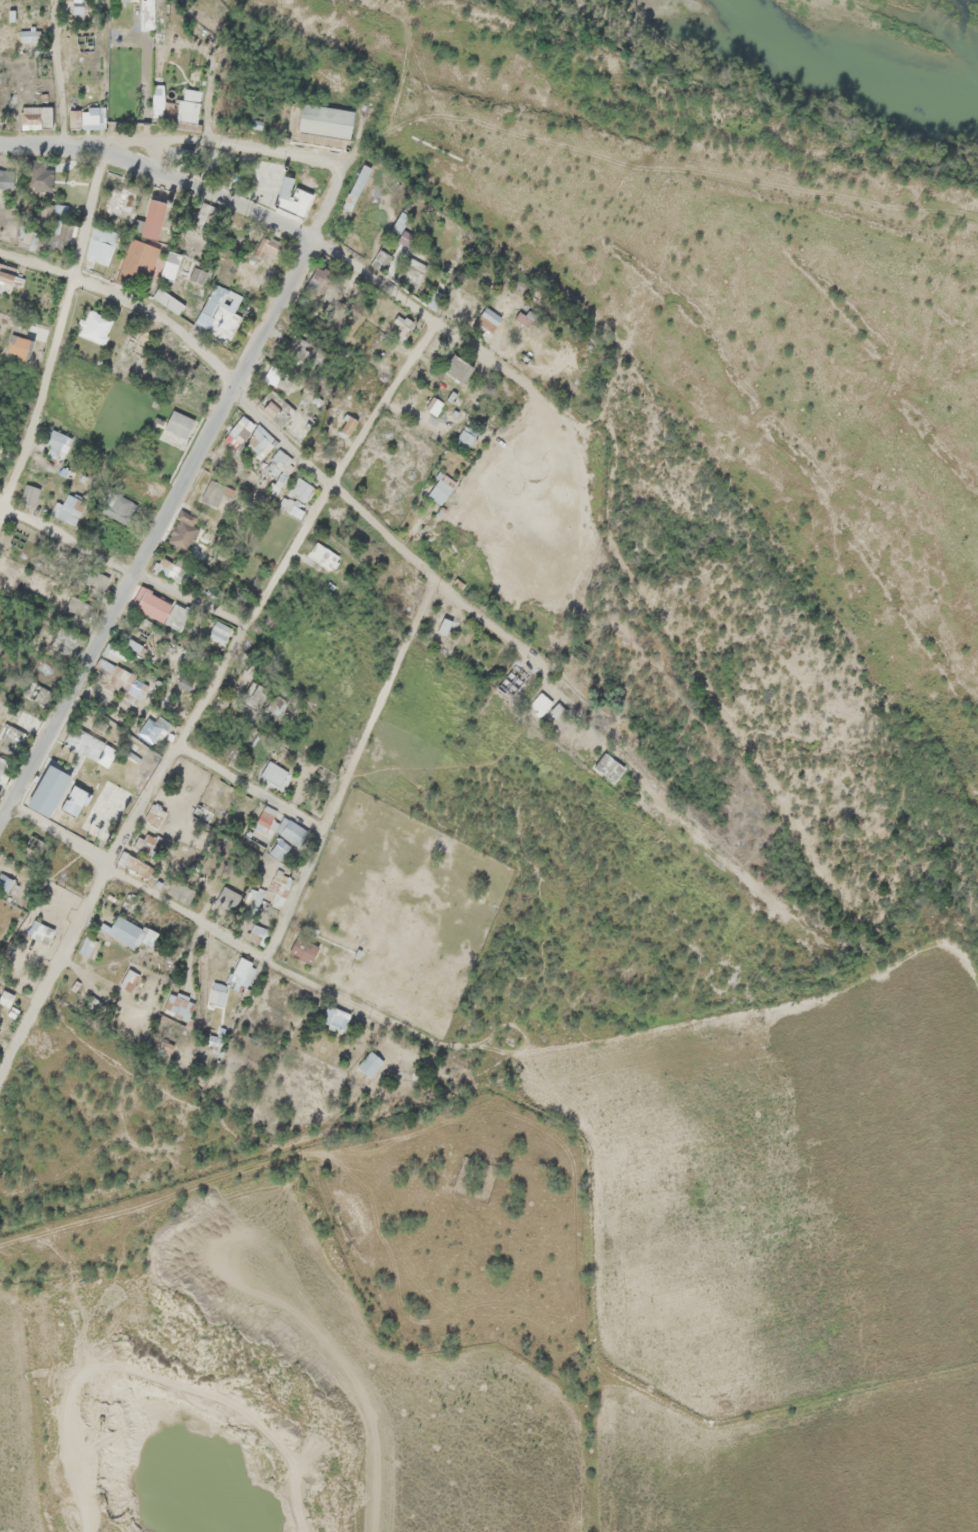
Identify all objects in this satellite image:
building: (151, 10)
river: (902, 21)
building: (32, 26)
road: (57, 73)
building: (323, 117)
building: (363, 172)
building: (46, 173)
building: (79, 173)
road: (199, 185)
building: (157, 209)
road: (90, 212)
building: (144, 254)
road: (129, 298)
road: (451, 330)
building: (21, 339)
building: (182, 419)
building: (471, 429)
building: (58, 438)
building: (0, 450)
road: (189, 468)
building: (443, 486)
building: (300, 491)
building: (73, 504)
road: (123, 565)
road: (449, 588)
building: (155, 600)
building: (224, 628)
building: (139, 639)
building: (109, 661)
road: (208, 692)
road: (351, 768)
road: (252, 783)
road: (218, 930)
road: (95, 979)
road: (8, 1036)

